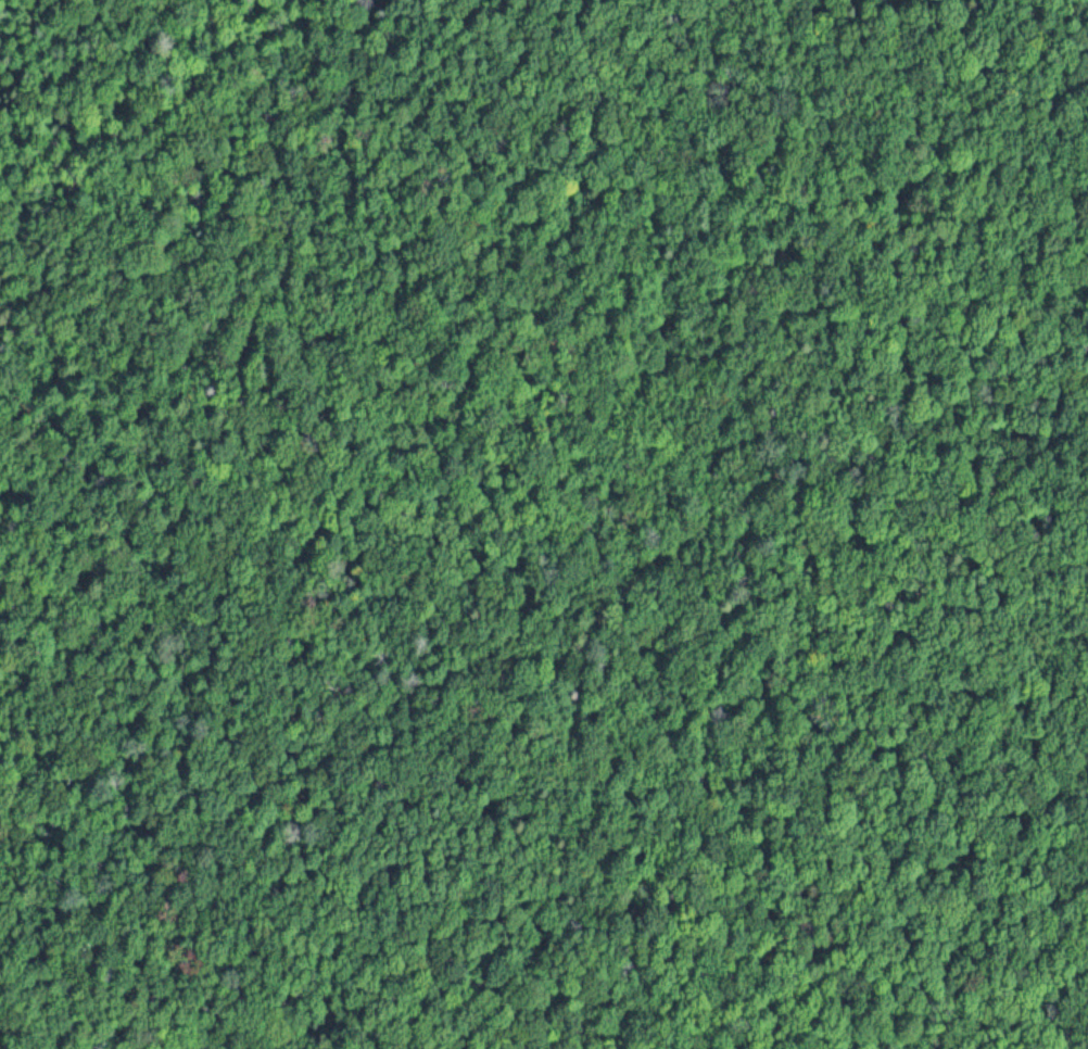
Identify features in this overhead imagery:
road: (528, 621)

